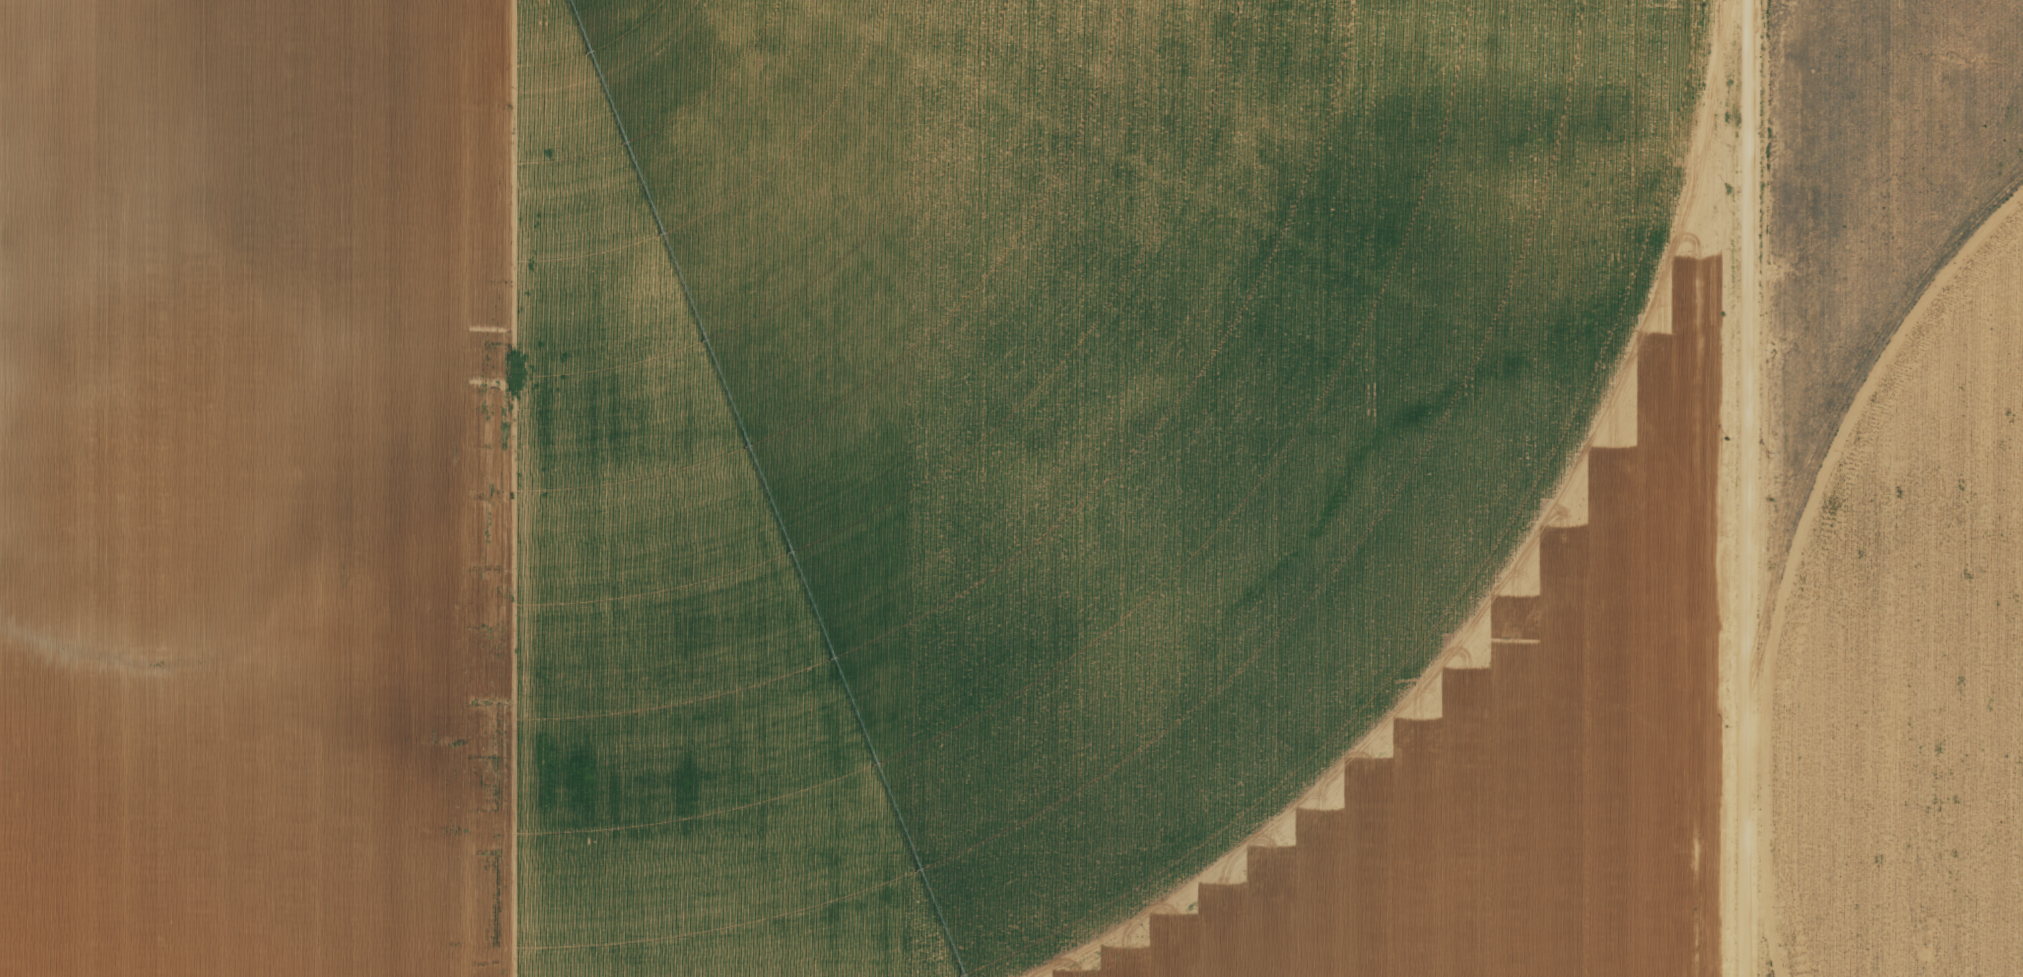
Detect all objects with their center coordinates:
road: (1772, 488)

